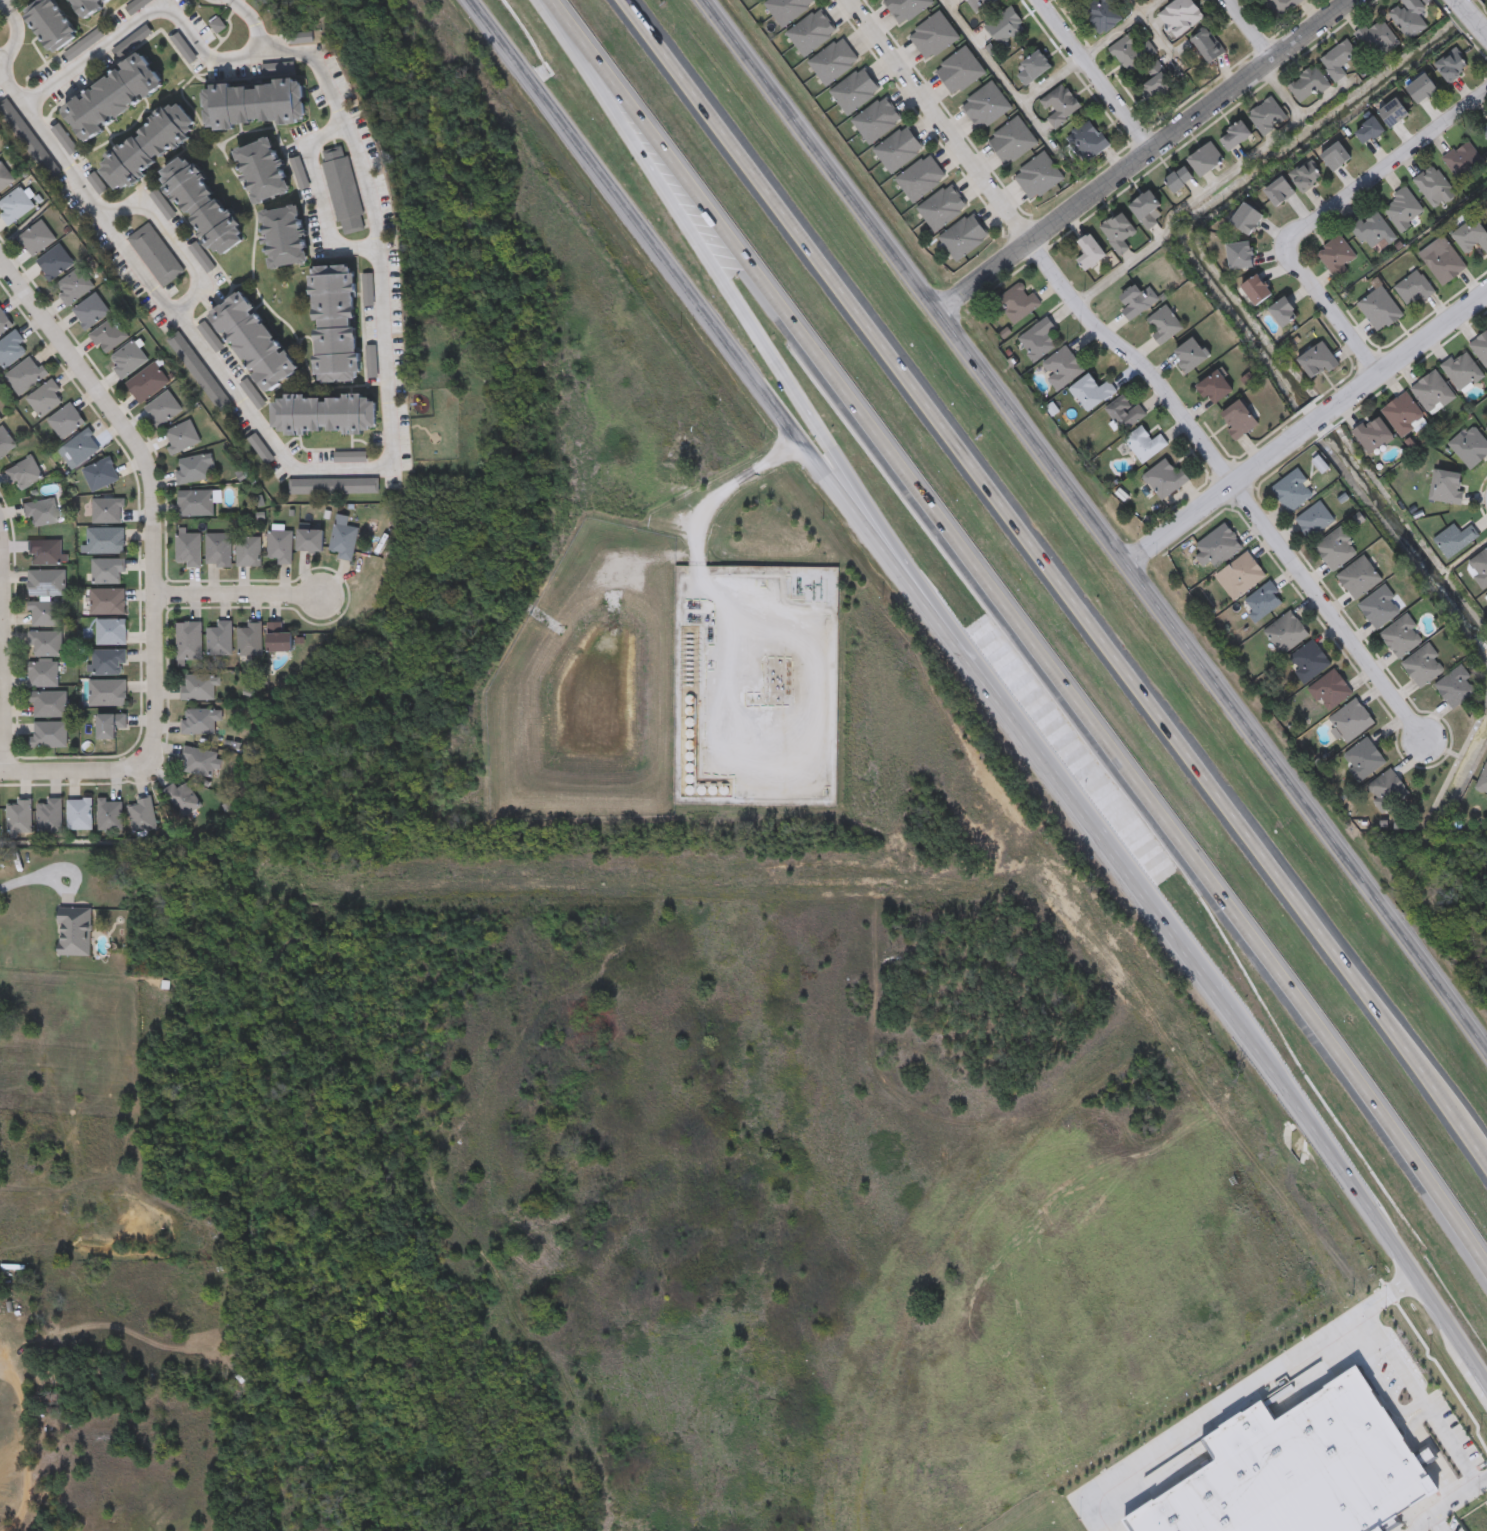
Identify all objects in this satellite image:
building: (761, 0)
road: (5, 5)
building: (980, 5)
building: (86, 6)
building: (1281, 7)
building: (907, 9)
building: (788, 10)
building: (1101, 14)
building: (1181, 17)
road: (1472, 17)
road: (147, 18)
building: (1410, 18)
road: (570, 21)
road: (1154, 21)
building: (52, 25)
building: (1006, 27)
road: (1122, 29)
road: (1253, 29)
building: (811, 33)
building: (934, 37)
building: (1379, 40)
building: (1208, 46)
building: (1130, 54)
road: (998, 57)
building: (1339, 61)
building: (834, 62)
building: (1452, 66)
building: (1034, 68)
building: (960, 71)
road: (1094, 75)
road: (1056, 79)
building: (1309, 85)
building: (1159, 88)
building: (1423, 88)
building: (855, 91)
building: (112, 97)
building: (254, 104)
building: (986, 106)
building: (1060, 106)
building: (1395, 113)
building: (1268, 117)
building: (877, 120)
road: (941, 120)
building: (1370, 130)
building: (1485, 130)
building: (1236, 136)
building: (28, 139)
building: (1013, 141)
building: (1088, 142)
building: (147, 147)
building: (899, 150)
road: (1145, 155)
building: (1336, 157)
building: (1206, 160)
building: (1464, 162)
road: (1382, 167)
building: (263, 171)
building: (1307, 176)
building: (4, 177)
building: (1038, 177)
building: (921, 179)
building: (1180, 180)
building: (1435, 188)
building: (343, 191)
building: (1280, 192)
road: (318, 196)
building: (14, 205)
building: (202, 205)
building: (942, 209)
building: (1403, 210)
building: (1148, 211)
building: (1248, 219)
building: (1373, 231)
building: (1119, 233)
building: (1473, 235)
building: (36, 237)
building: (285, 237)
building: (964, 238)
road: (179, 240)
building: (1091, 253)
building: (156, 256)
building: (1241, 256)
building: (1337, 256)
building: (1443, 261)
building: (53, 262)
building: (72, 286)
building: (1414, 290)
building: (1257, 291)
building: (1138, 301)
building: (1018, 304)
building: (1381, 310)
building: (90, 311)
building: (1284, 312)
road: (1331, 314)
building: (4, 321)
building: (335, 324)
building: (1165, 326)
building: (108, 335)
building: (1039, 340)
building: (253, 342)
building: (11, 348)
building: (1481, 349)
road: (735, 352)
building: (1191, 356)
building: (126, 359)
road: (1137, 361)
building: (1318, 362)
building: (1062, 368)
building: (1462, 371)
building: (200, 373)
building: (25, 374)
road: (786, 377)
building: (146, 382)
building: (1215, 389)
building: (1433, 392)
building: (1092, 393)
building: (44, 398)
building: (162, 408)
building: (1125, 414)
building: (1404, 414)
building: (324, 415)
building: (65, 420)
building: (1239, 420)
building: (0, 423)
building: (1486, 428)
road: (1306, 433)
building: (1374, 435)
building: (181, 436)
building: (5, 441)
building: (1145, 445)
building: (82, 446)
building: (1470, 447)
building: (194, 469)
road: (335, 471)
building: (22, 473)
building: (100, 474)
building: (1165, 480)
building: (334, 487)
building: (1448, 488)
building: (1293, 492)
road: (156, 493)
building: (194, 502)
building: (107, 510)
building: (40, 512)
building: (1315, 521)
road: (1095, 525)
road: (697, 534)
building: (309, 540)
building: (105, 541)
building: (342, 541)
building: (1455, 541)
building: (279, 546)
building: (189, 548)
building: (1217, 548)
building: (218, 549)
building: (1337, 550)
building: (247, 551)
building: (44, 552)
building: (1479, 568)
building: (107, 570)
building: (1244, 574)
road: (1054, 577)
building: (1359, 578)
building: (46, 582)
road: (241, 595)
building: (108, 601)
building: (1263, 602)
building: (1380, 608)
road: (1331, 612)
building: (44, 613)
road: (7, 622)
building: (110, 631)
building: (1286, 633)
building: (1403, 637)
building: (219, 638)
building: (277, 638)
building: (249, 639)
building: (188, 640)
building: (45, 642)
road: (14, 652)
road: (1040, 653)
building: (108, 661)
building: (1308, 662)
building: (1424, 667)
building: (43, 673)
building: (197, 686)
building: (1457, 688)
building: (1331, 691)
building: (106, 692)
building: (48, 704)
building: (198, 721)
building: (1352, 722)
building: (107, 725)
building: (49, 734)
building: (1364, 760)
building: (199, 761)
road: (74, 775)
building: (1483, 783)
building: (1389, 790)
building: (181, 798)
building: (79, 813)
building: (49, 815)
building: (109, 815)
building: (142, 815)
building: (19, 816)
road: (1112, 861)
road: (35, 868)
building: (75, 933)
road: (1355, 1191)
road: (1482, 1377)
road: (1428, 1395)
road: (1232, 1398)
road: (25, 1420)
building: (1298, 1470)
road: (1448, 1504)
road: (1438, 1523)
parking lot: (1445, 1525)

